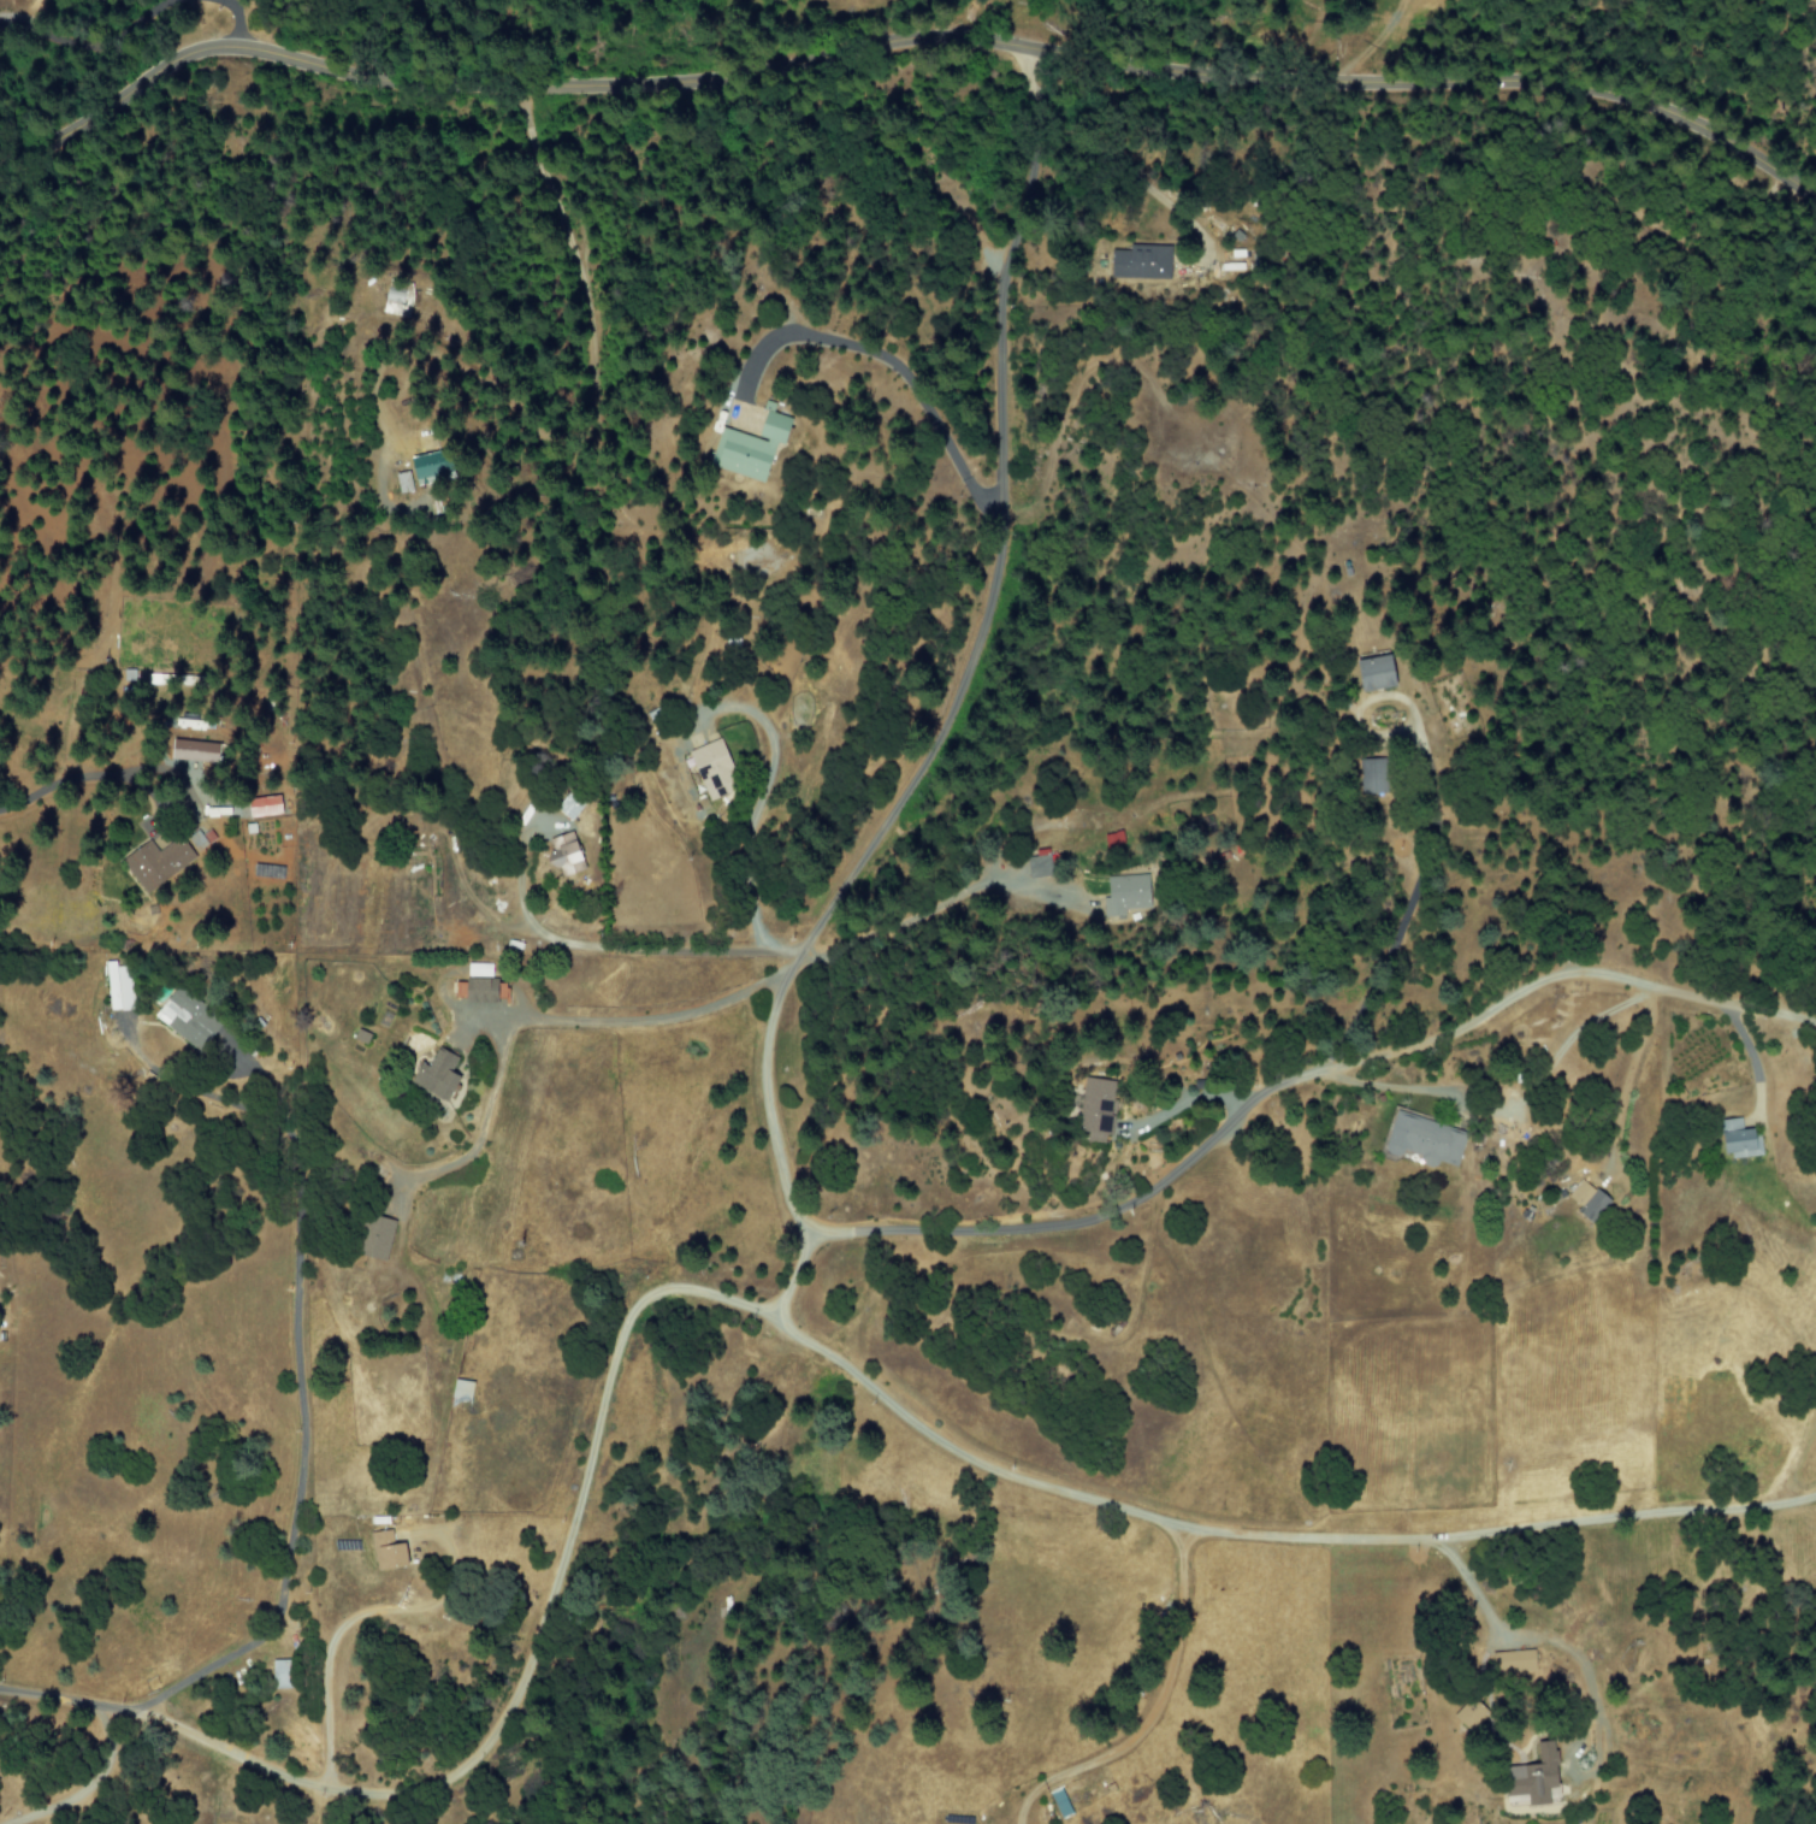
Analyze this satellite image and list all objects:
road: (899, 41)
building: (1143, 261)
building: (398, 300)
building: (751, 447)
building: (432, 466)
building: (403, 480)
building: (1378, 672)
road: (954, 707)
building: (195, 751)
building: (715, 768)
building: (1374, 775)
building: (573, 803)
road: (749, 804)
building: (265, 807)
building: (1113, 839)
building: (568, 854)
building: (158, 862)
building: (1040, 864)
building: (1126, 895)
road: (928, 907)
road: (1403, 919)
road: (602, 948)
building: (483, 984)
building: (188, 1019)
road: (641, 1021)
building: (362, 1037)
building: (438, 1075)
road: (1307, 1078)
building: (1099, 1106)
building: (1428, 1139)
building: (1739, 1140)
building: (1589, 1199)
building: (378, 1238)
road: (753, 1306)
building: (462, 1391)
road: (303, 1424)
building: (389, 1551)
road: (354, 1623)
road: (1528, 1637)
building: (1519, 1660)
building: (282, 1674)
road: (1155, 1710)
building: (1473, 1716)
building: (1063, 1805)

